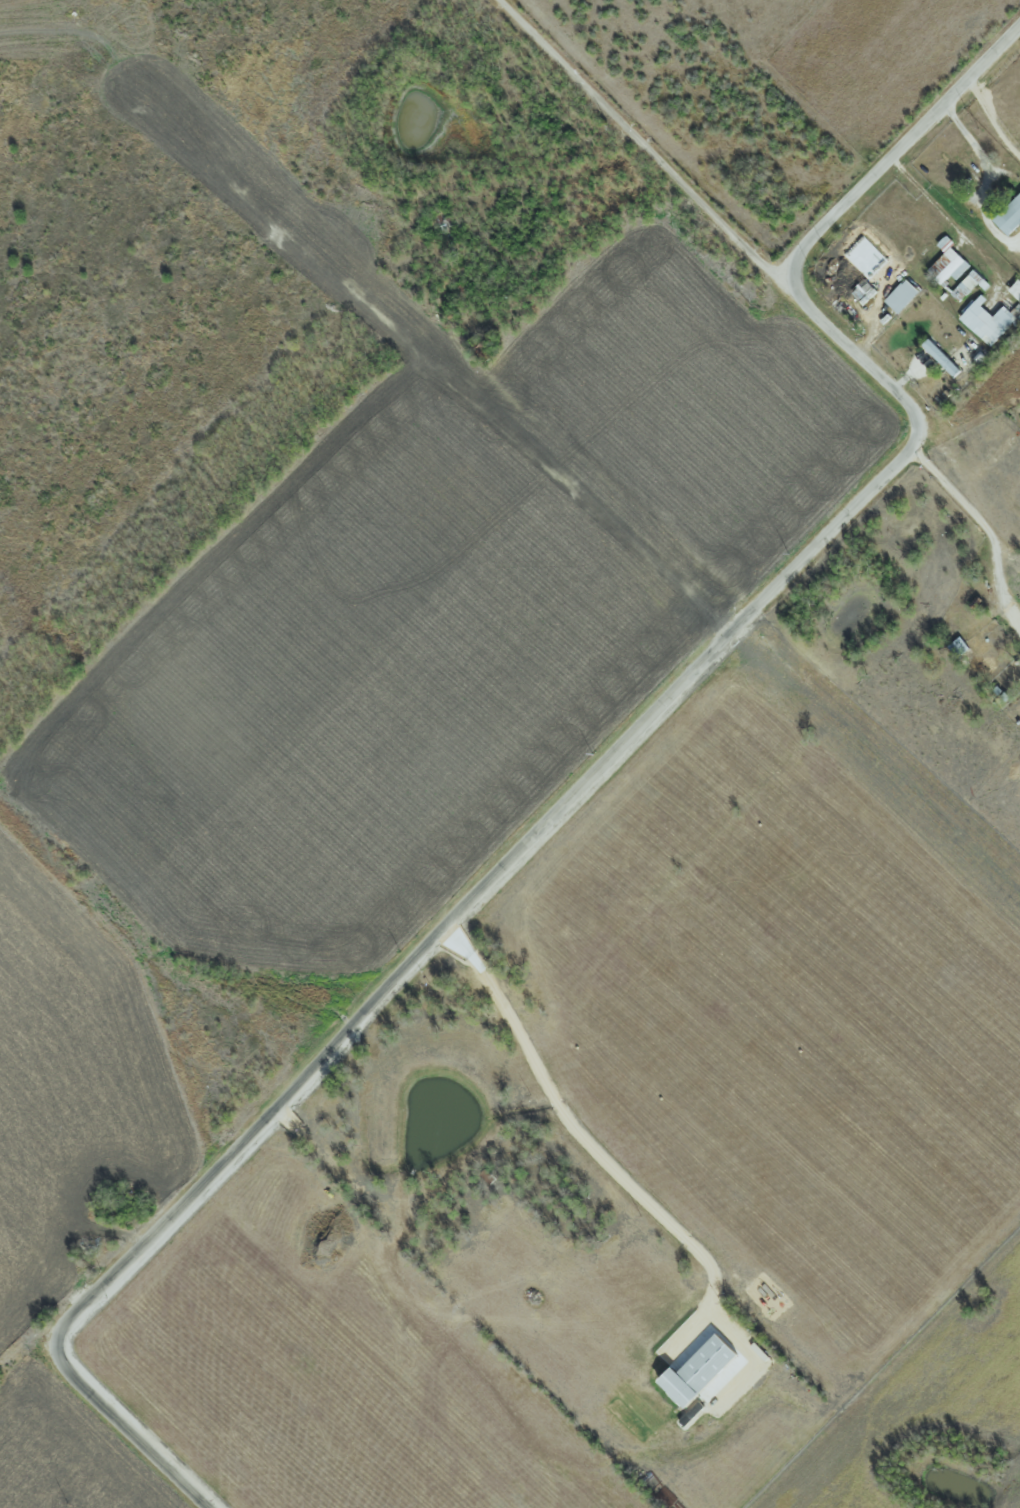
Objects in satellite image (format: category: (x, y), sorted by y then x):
road: (991, 119)
road: (645, 144)
road: (982, 158)
road: (944, 212)
building: (1007, 218)
building: (986, 321)
building: (939, 357)
road: (981, 521)
road: (597, 770)
road: (585, 1139)

